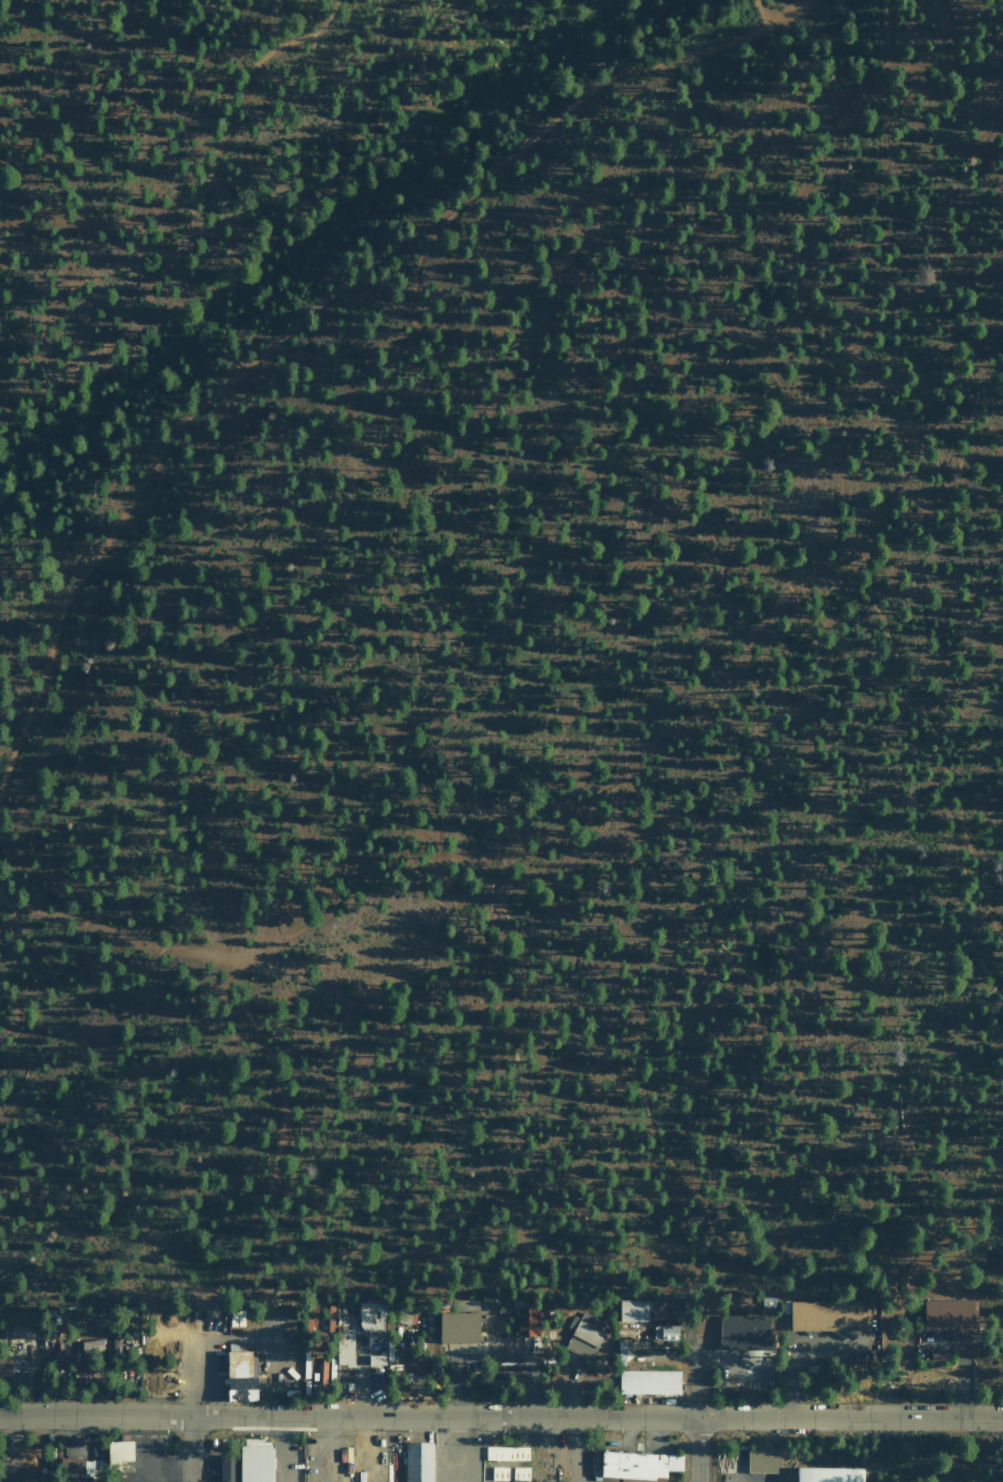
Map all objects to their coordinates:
road: (761, 11)
road: (884, 26)
road: (859, 77)
road: (946, 77)
road: (177, 93)
road: (797, 260)
road: (316, 306)
road: (933, 733)
road: (194, 745)
road: (280, 1135)
building: (465, 1305)
building: (633, 1309)
building: (947, 1314)
building: (828, 1315)
building: (369, 1316)
building: (236, 1317)
building: (525, 1322)
building: (458, 1327)
building: (665, 1332)
building: (743, 1332)
building: (585, 1336)
building: (92, 1345)
building: (344, 1347)
building: (376, 1360)
building: (5, 1365)
building: (242, 1376)
building: (648, 1382)
road: (501, 1415)
road: (691, 1448)
road: (187, 1449)
building: (507, 1453)
building: (119, 1455)
building: (763, 1460)
building: (418, 1462)
building: (256, 1463)
building: (638, 1464)
building: (71, 1467)
building: (228, 1468)
building: (10, 1470)
building: (499, 1473)
building: (520, 1473)
building: (829, 1474)

